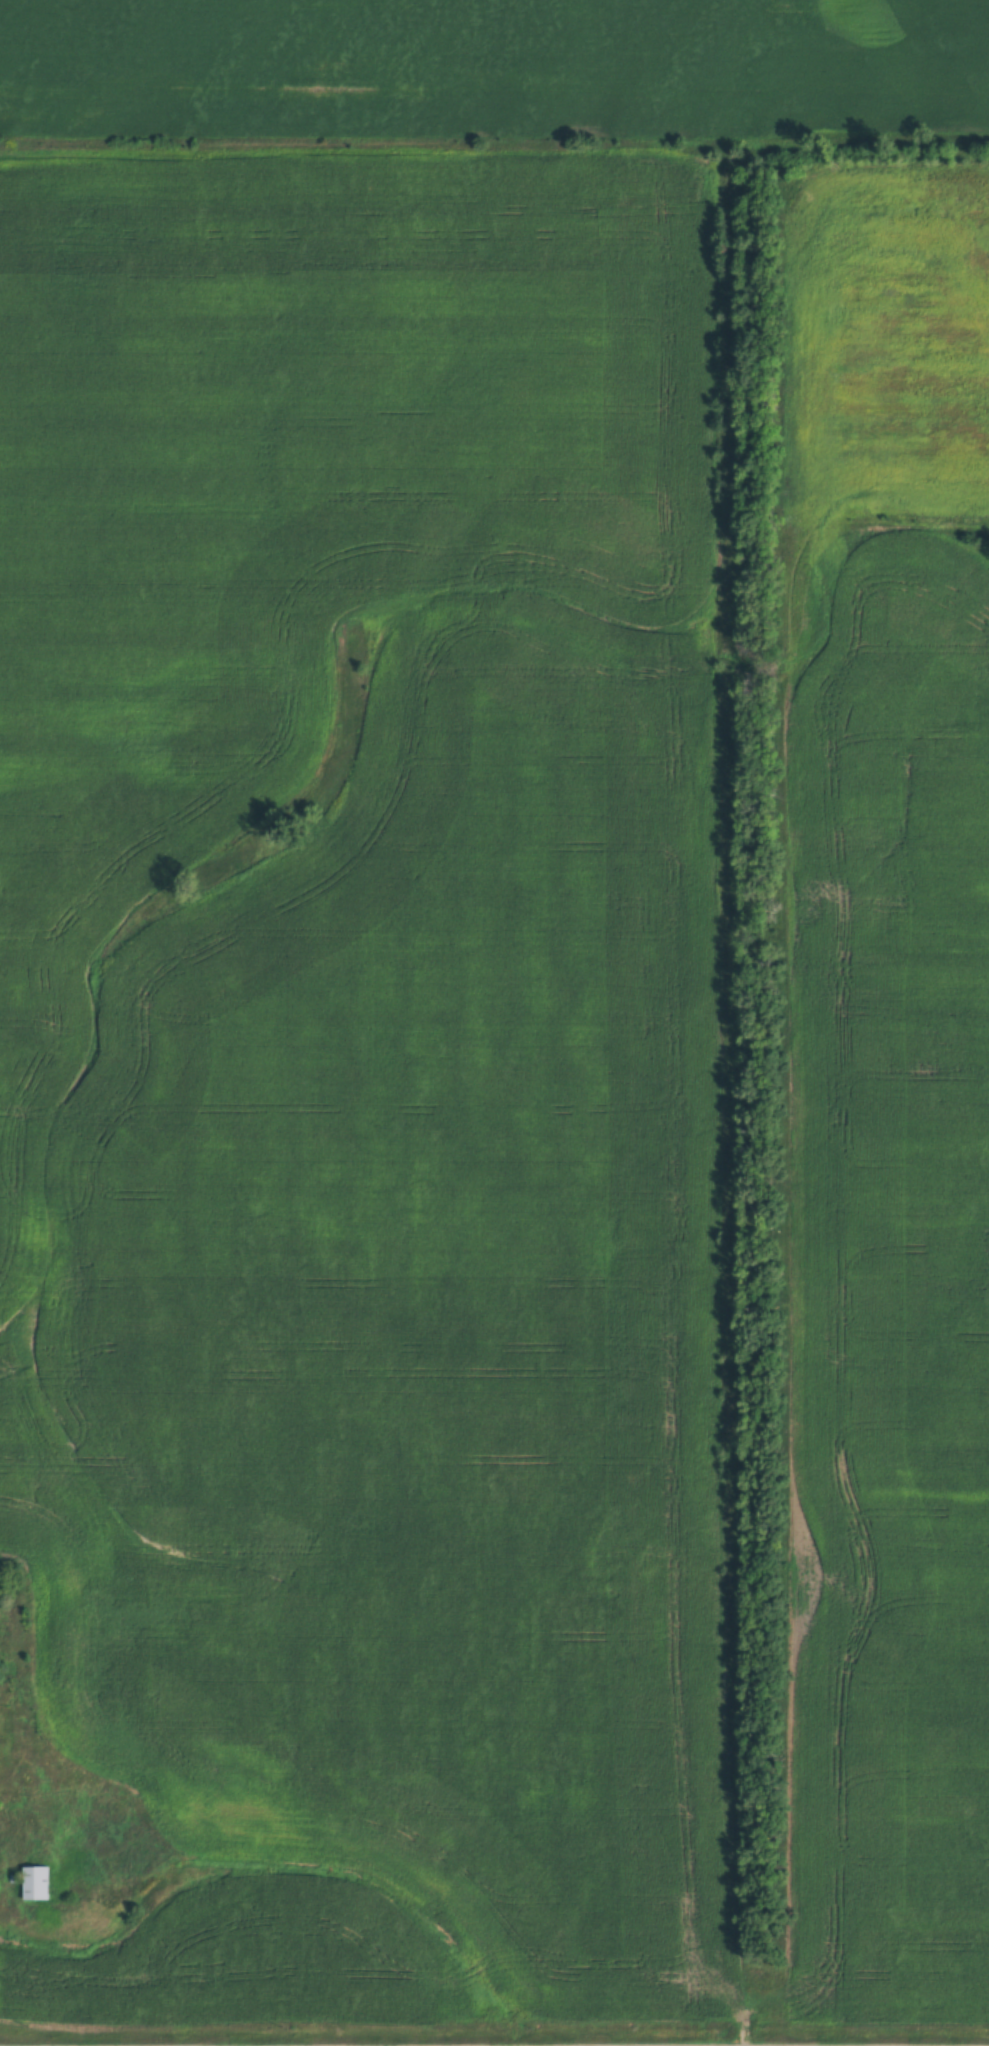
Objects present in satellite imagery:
building: (35, 1884)

